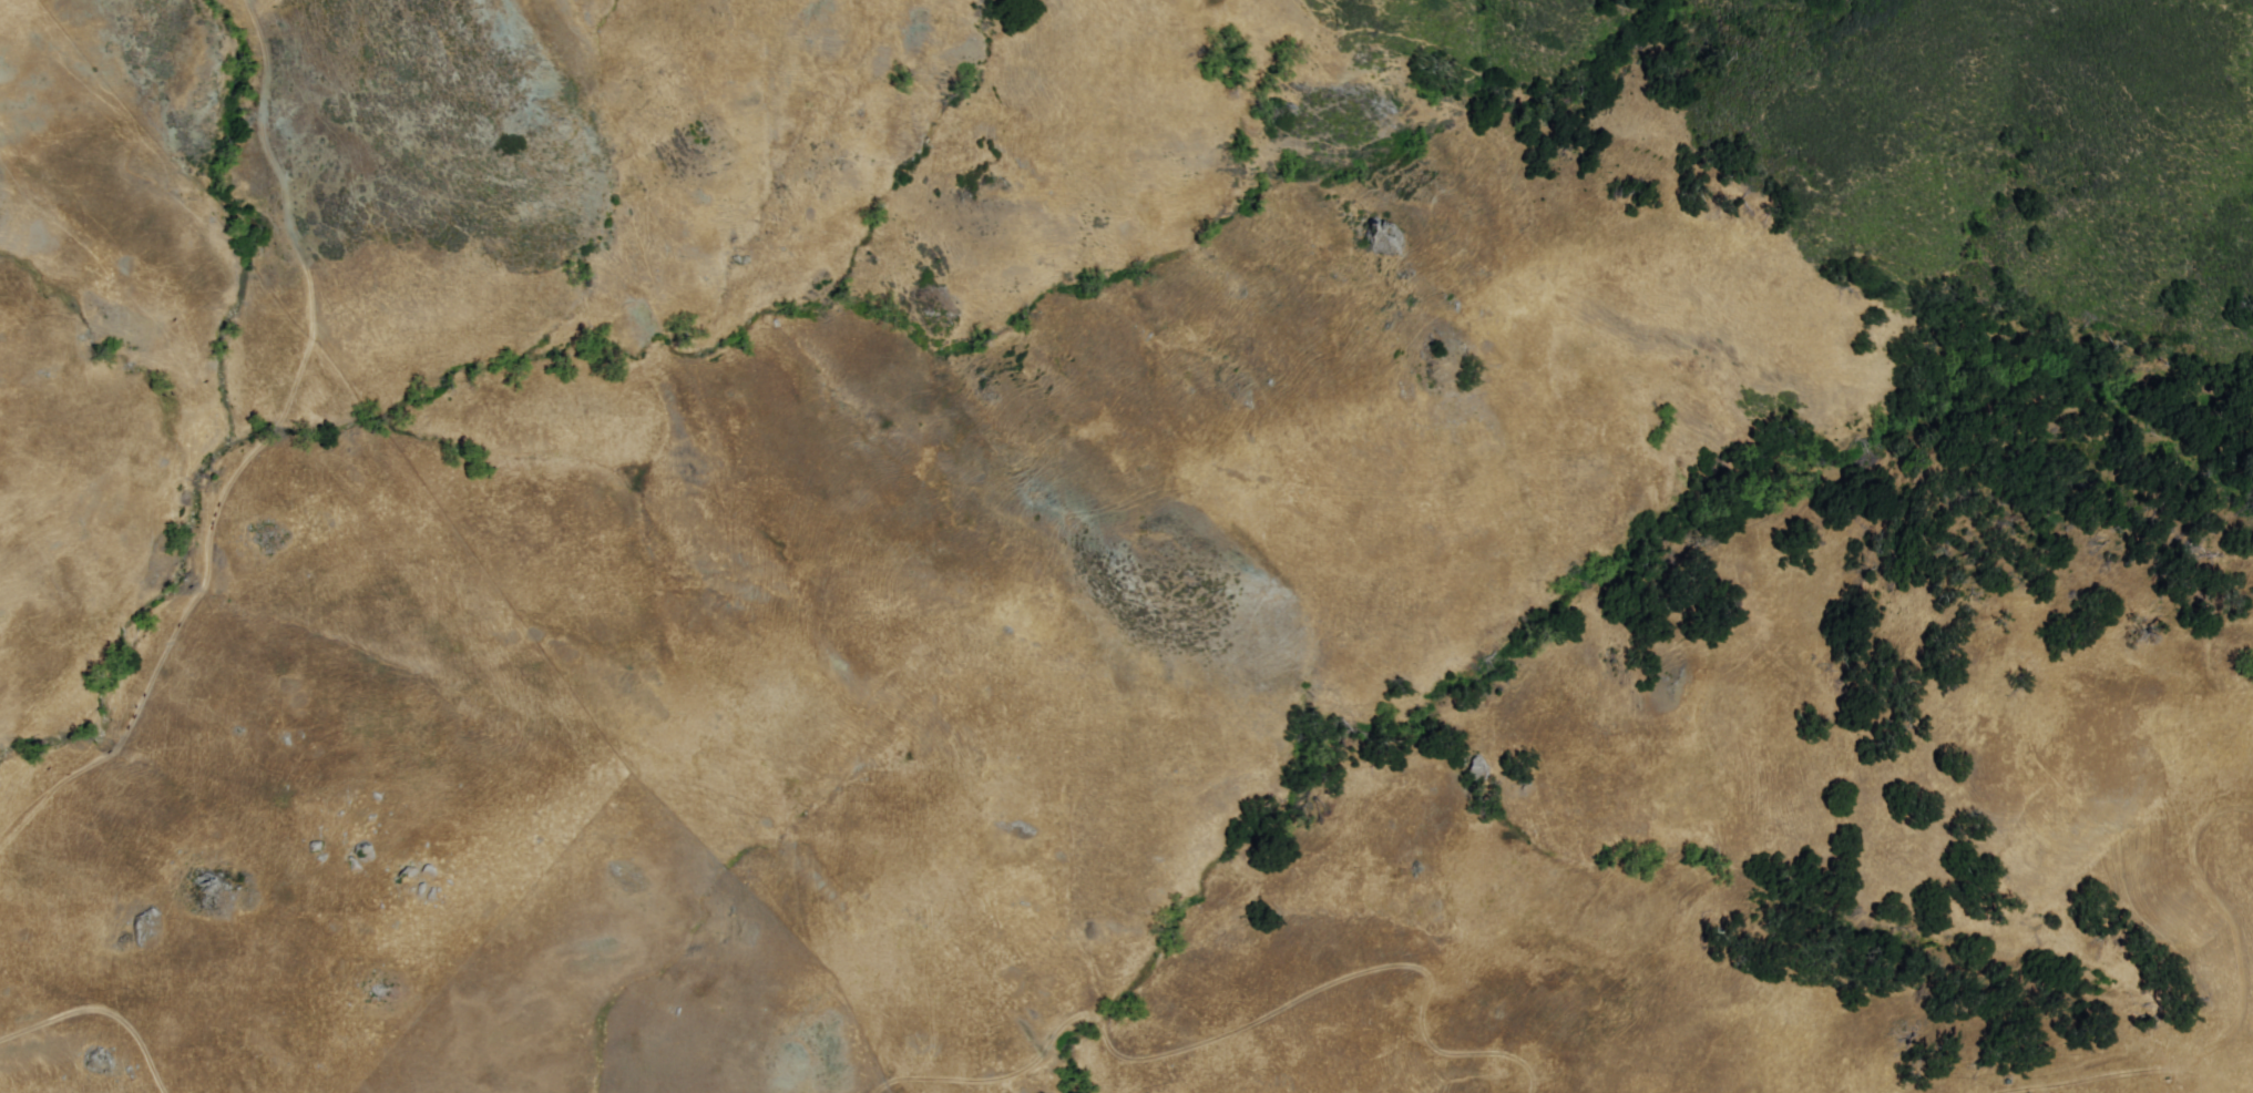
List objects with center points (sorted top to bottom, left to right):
road: (102, 1012)

